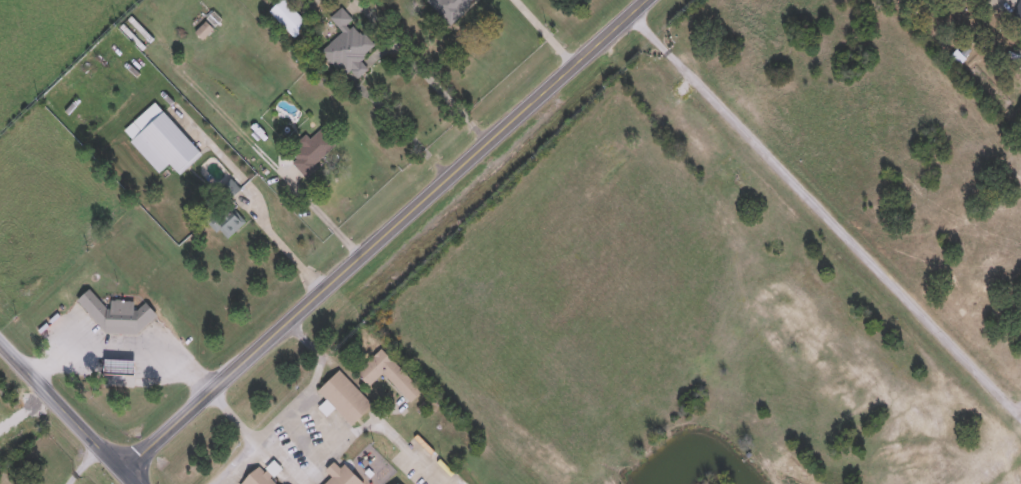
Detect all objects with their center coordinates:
building: (924, 1)
building: (450, 7)
building: (1018, 10)
building: (288, 16)
building: (203, 29)
road: (552, 31)
building: (1018, 31)
building: (349, 45)
road: (439, 87)
road: (407, 131)
building: (161, 139)
building: (313, 151)
building: (230, 187)
road: (330, 213)
road: (827, 213)
building: (228, 220)
road: (386, 238)
road: (297, 242)
building: (117, 312)
road: (125, 347)
road: (322, 356)
building: (119, 365)
building: (389, 372)
building: (345, 396)
road: (61, 410)
road: (280, 415)
road: (235, 416)
road: (303, 439)
road: (398, 439)
road: (233, 461)
road: (326, 461)
road: (81, 464)
road: (127, 480)
building: (398, 483)

